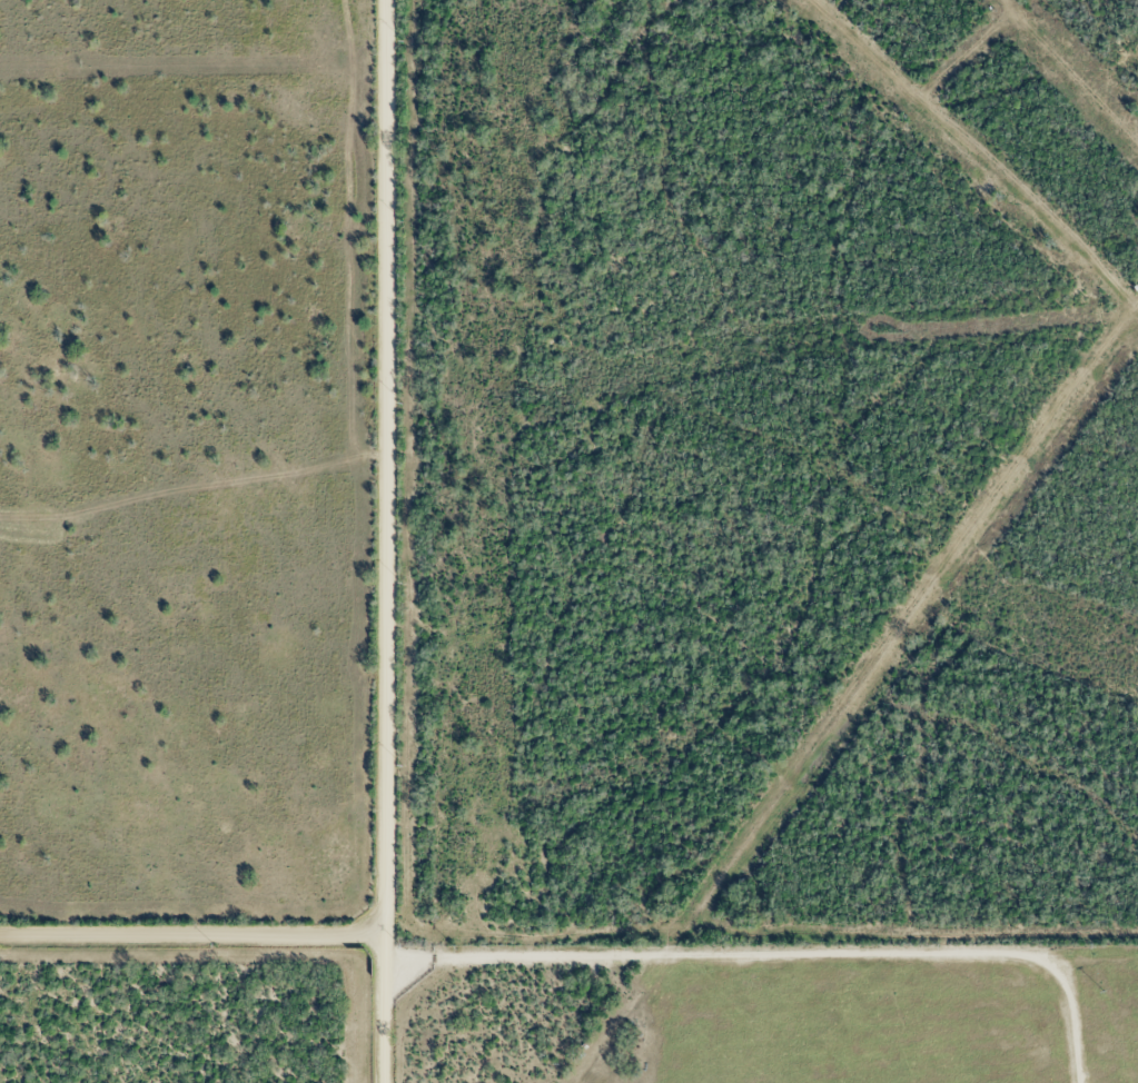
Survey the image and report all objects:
road: (384, 541)
road: (191, 931)
road: (781, 950)

